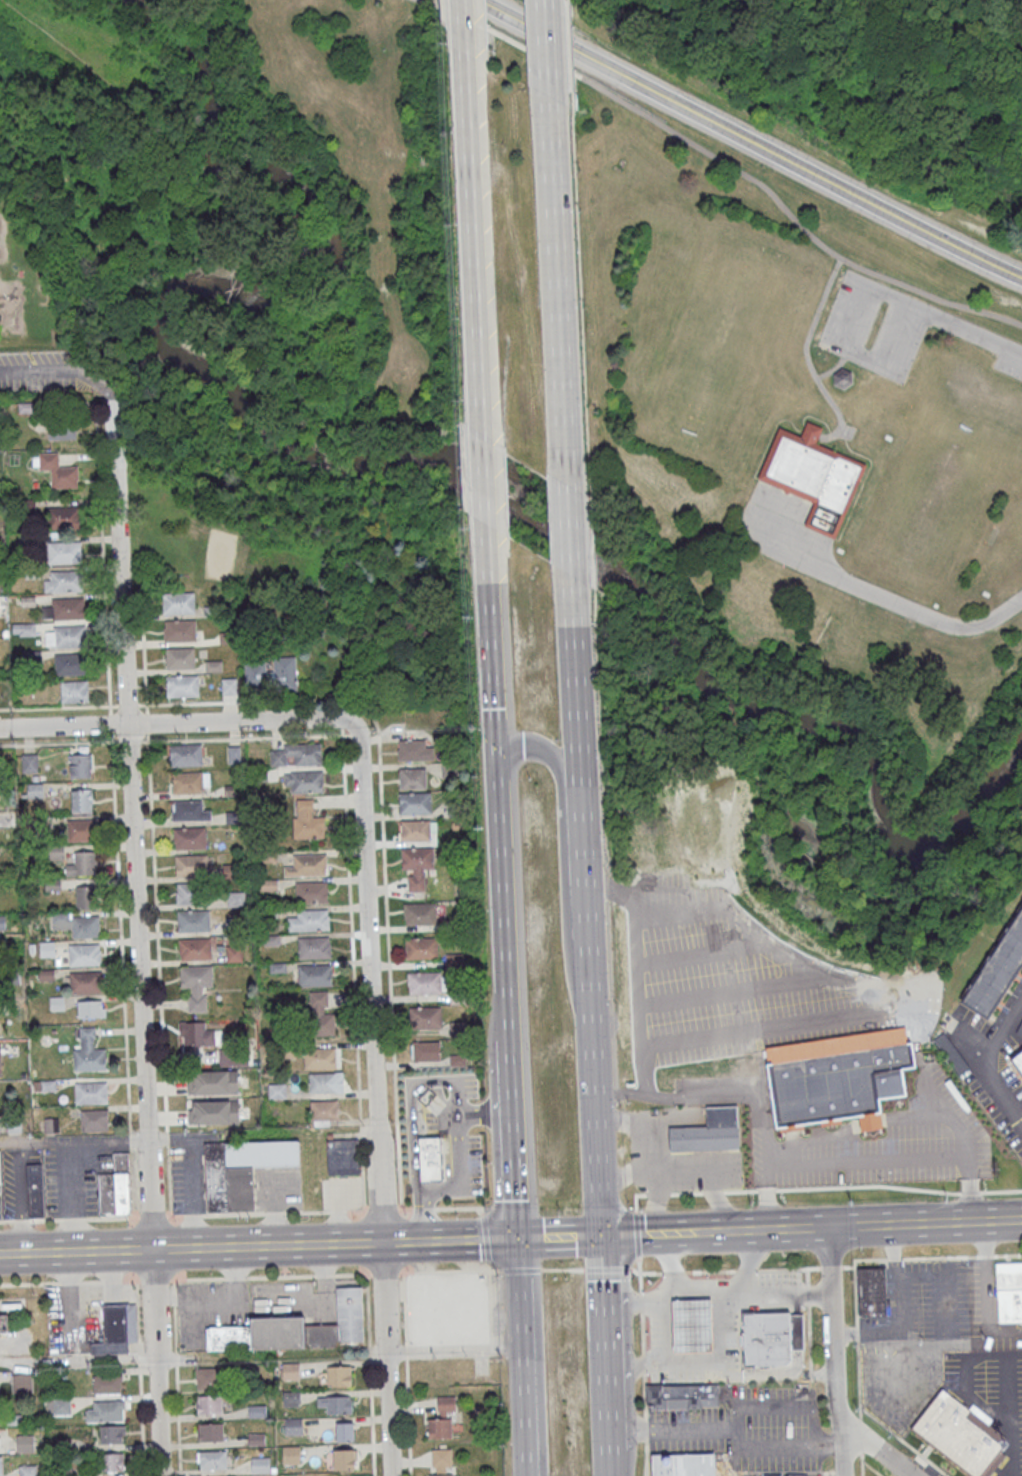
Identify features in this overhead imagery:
road: (461, 29)
road: (545, 48)
road: (140, 120)
road: (747, 141)
road: (722, 161)
road: (471, 247)
road: (556, 283)
park: (373, 297)
parking lot: (873, 326)
road: (968, 330)
road: (838, 345)
park: (729, 354)
road: (807, 358)
parking lot: (1010, 359)
road: (837, 367)
road: (64, 371)
building: (844, 379)
building: (61, 430)
river: (394, 461)
building: (58, 470)
building: (814, 475)
road: (484, 507)
building: (63, 517)
park: (812, 528)
road: (568, 547)
building: (63, 552)
road: (102, 553)
building: (63, 581)
road: (885, 597)
building: (178, 601)
building: (64, 609)
building: (23, 629)
building: (179, 629)
building: (65, 636)
road: (143, 654)
building: (180, 657)
building: (69, 664)
building: (213, 666)
building: (272, 673)
road: (492, 677)
building: (181, 685)
building: (73, 691)
road: (177, 723)
road: (73, 743)
building: (415, 750)
building: (234, 754)
building: (296, 754)
building: (186, 755)
building: (29, 763)
building: (80, 766)
traffic signals: (498, 774)
building: (413, 778)
building: (307, 781)
building: (188, 782)
road: (343, 784)
building: (81, 800)
building: (415, 802)
building: (188, 810)
road: (581, 812)
building: (309, 827)
building: (416, 829)
building: (79, 830)
building: (189, 838)
road: (562, 844)
road: (383, 847)
building: (417, 858)
building: (82, 864)
building: (191, 865)
building: (308, 865)
building: (311, 891)
building: (194, 893)
building: (85, 896)
building: (236, 898)
road: (503, 905)
building: (420, 913)
building: (313, 919)
building: (193, 920)
building: (78, 924)
road: (137, 935)
building: (712, 941)
building: (313, 947)
building: (195, 948)
building: (421, 948)
building: (47, 949)
building: (234, 953)
building: (84, 954)
road: (698, 954)
road: (121, 960)
building: (455, 960)
building: (999, 970)
building: (196, 975)
building: (313, 975)
road: (158, 978)
building: (85, 982)
building: (423, 982)
road: (740, 992)
building: (324, 1000)
building: (88, 1009)
building: (425, 1017)
road: (859, 1019)
building: (319, 1026)
building: (201, 1035)
building: (425, 1052)
building: (951, 1053)
building: (233, 1058)
building: (319, 1058)
building: (89, 1059)
road: (978, 1059)
building: (1019, 1059)
building: (323, 1081)
building: (828, 1081)
building: (215, 1082)
building: (277, 1090)
building: (90, 1092)
road: (374, 1099)
building: (435, 1105)
building: (324, 1110)
building: (214, 1112)
road: (595, 1117)
building: (94, 1119)
building: (708, 1131)
road: (512, 1137)
road: (73, 1139)
road: (641, 1150)
building: (343, 1157)
building: (429, 1160)
road: (458, 1164)
parking lot: (187, 1168)
building: (241, 1170)
road: (701, 1174)
parking lot: (56, 1178)
building: (0, 1185)
building: (115, 1187)
parking lot: (278, 1188)
building: (35, 1189)
road: (655, 1201)
road: (242, 1213)
road: (926, 1223)
road: (806, 1228)
road: (729, 1230)
road: (639, 1233)
traffic signals: (602, 1235)
road: (559, 1236)
traffic signals: (516, 1238)
road: (333, 1242)
road: (853, 1243)
road: (805, 1248)
road: (76, 1250)
road: (517, 1255)
road: (507, 1270)
road: (833, 1280)
building: (872, 1291)
building: (1009, 1291)
road: (518, 1292)
road: (605, 1300)
parking lot: (249, 1305)
building: (691, 1323)
road: (808, 1324)
building: (312, 1326)
building: (117, 1329)
building: (772, 1340)
road: (77, 1359)
building: (290, 1371)
road: (858, 1371)
road: (369, 1374)
road: (404, 1374)
building: (339, 1375)
road: (642, 1375)
road: (176, 1377)
road: (139, 1378)
building: (208, 1378)
building: (22, 1383)
building: (106, 1384)
road: (539, 1391)
road: (522, 1393)
building: (683, 1398)
building: (291, 1399)
building: (209, 1404)
building: (336, 1404)
road: (834, 1404)
road: (786, 1407)
road: (609, 1408)
building: (105, 1411)
building: (257, 1411)
building: (443, 1419)
building: (293, 1426)
road: (733, 1428)
building: (345, 1431)
building: (211, 1432)
building: (112, 1434)
building: (959, 1435)
road: (904, 1440)
building: (24, 1443)
road: (874, 1447)
building: (291, 1455)
building: (212, 1459)
building: (344, 1459)
building: (112, 1462)
building: (442, 1462)
road: (611, 1463)
building: (260, 1464)
building: (683, 1464)
building: (0, 1466)
road: (871, 1468)
building: (27, 1470)

